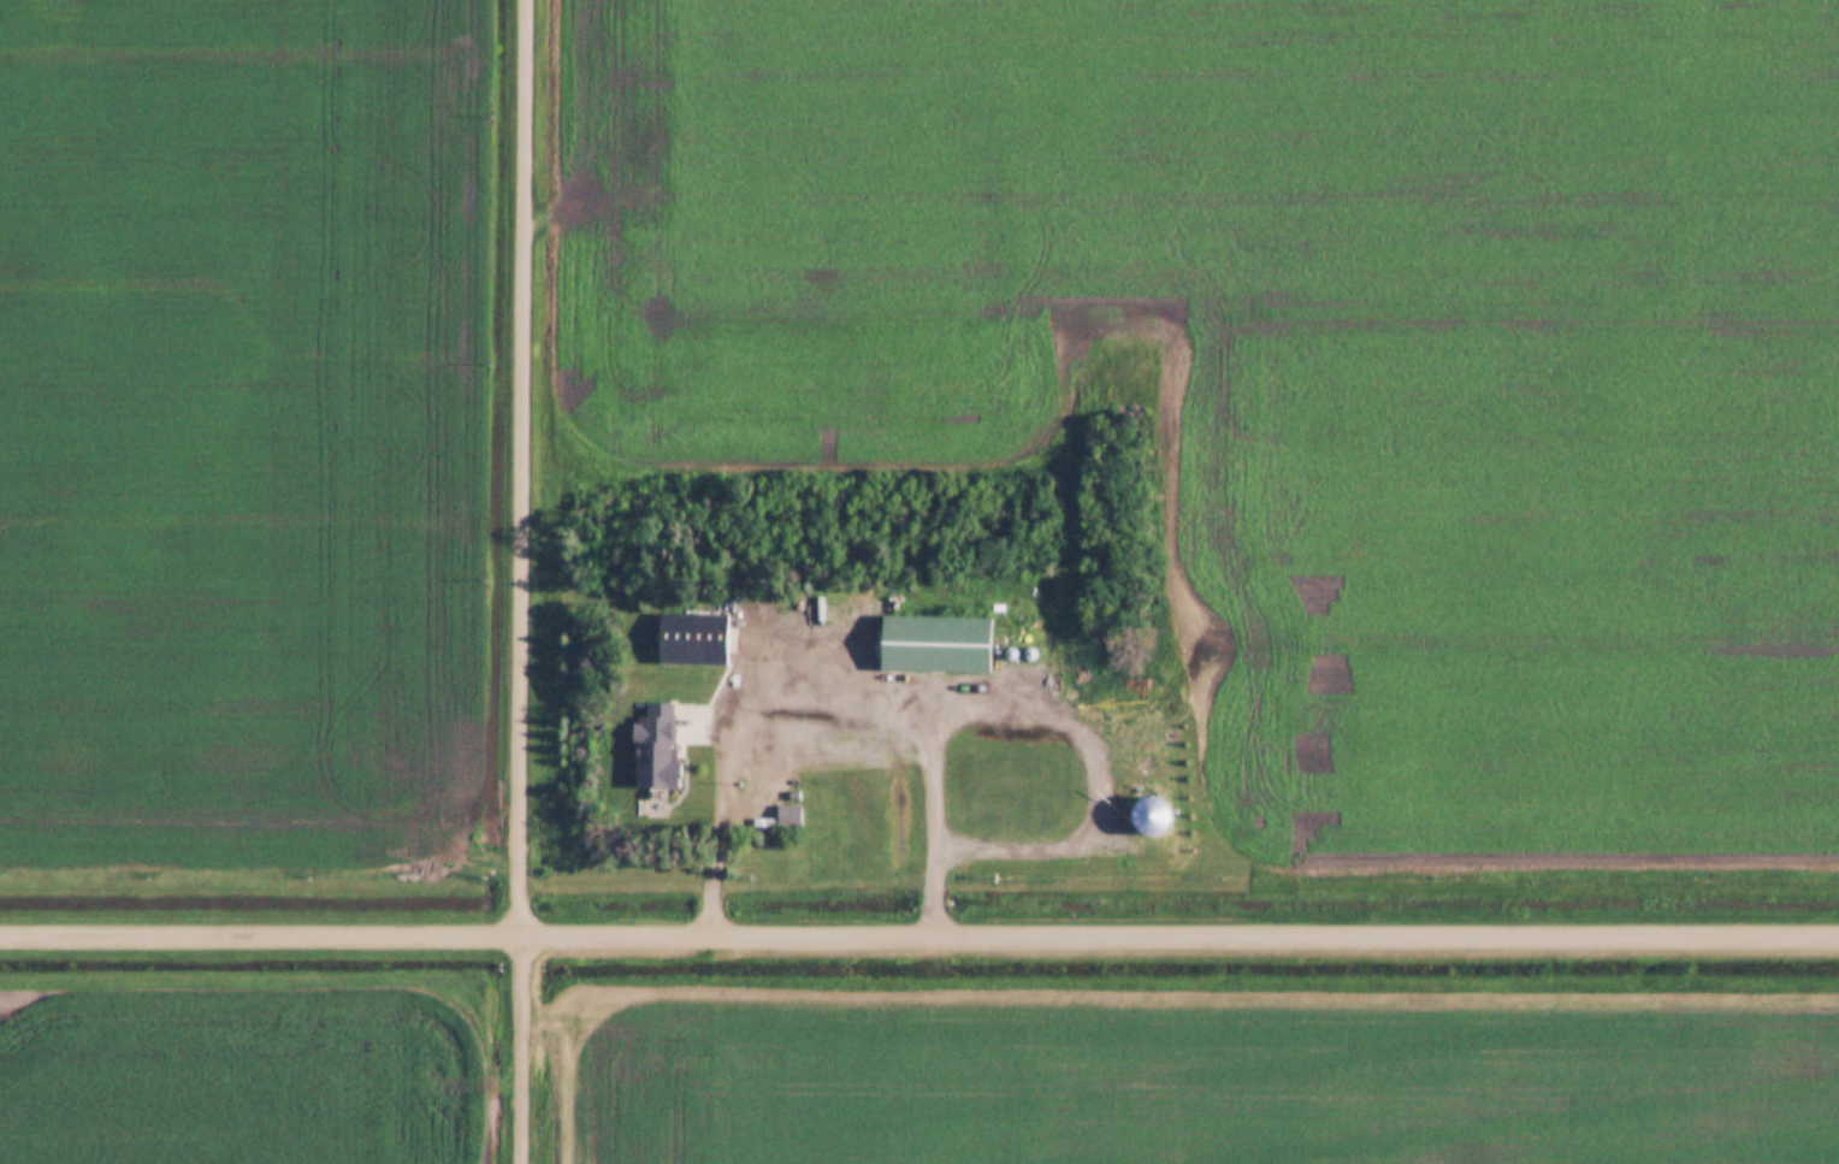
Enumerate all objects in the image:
road: (520, 463)
building: (933, 639)
road: (832, 710)
building: (646, 743)
road: (919, 929)
road: (518, 1046)

